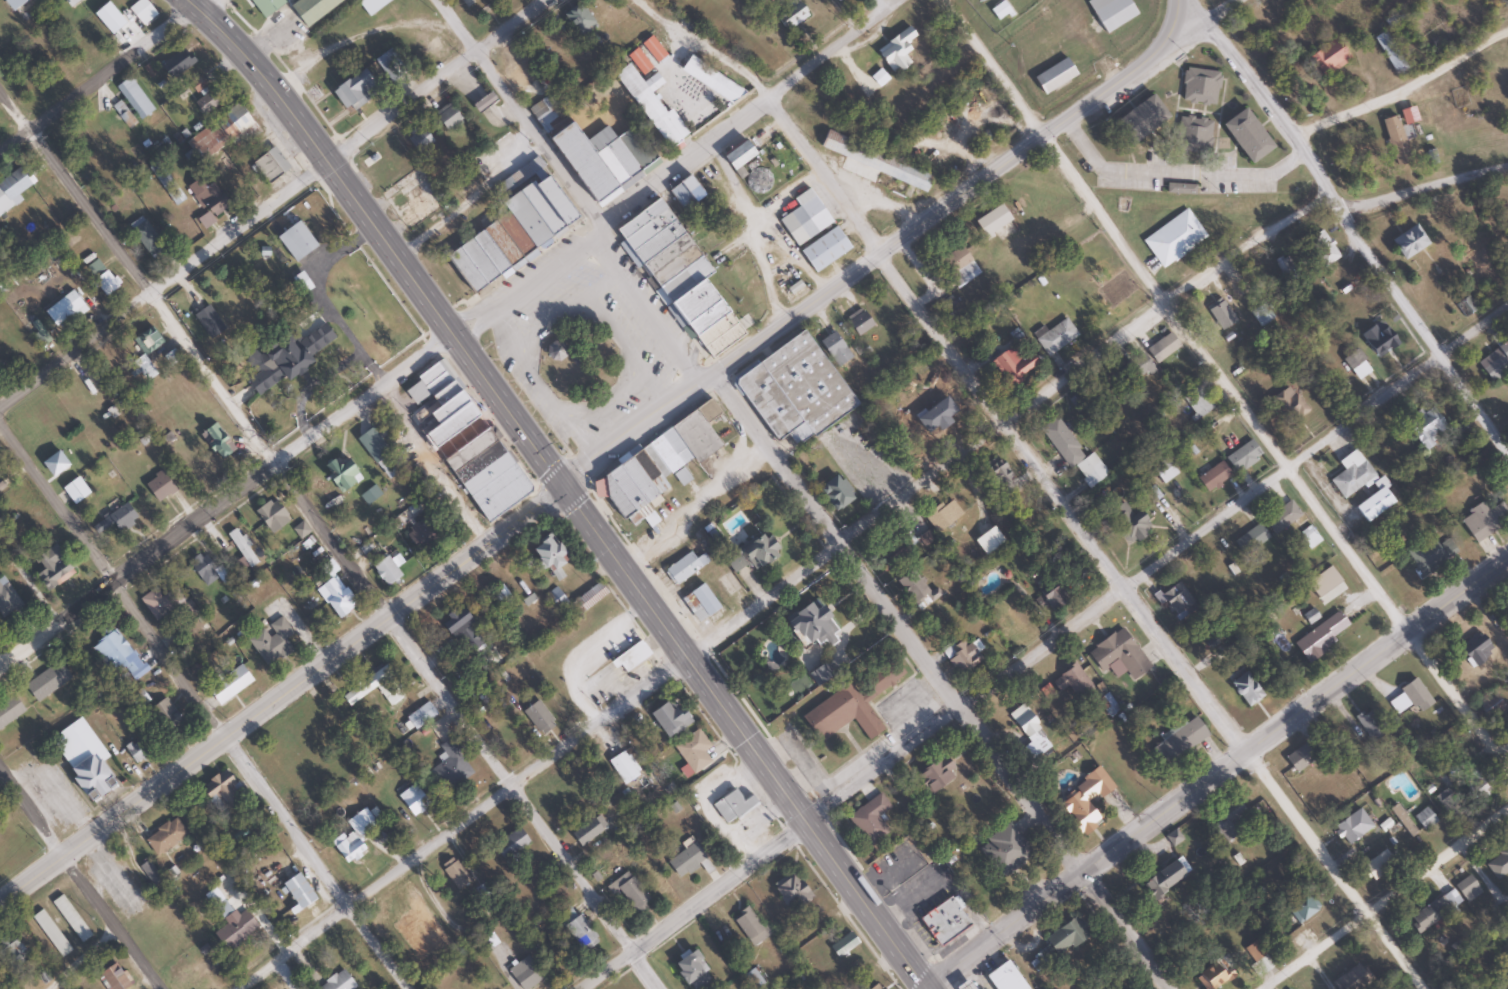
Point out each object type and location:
building: (835, 0)
building: (70, 2)
park: (1210, 2)
building: (10, 3)
building: (265, 5)
building: (371, 5)
building: (475, 5)
building: (309, 9)
building: (998, 10)
building: (142, 11)
building: (1110, 12)
building: (787, 13)
building: (577, 18)
road: (1174, 21)
road: (1203, 23)
building: (651, 48)
building: (1388, 52)
building: (893, 54)
building: (1327, 57)
building: (637, 60)
building: (176, 62)
building: (388, 63)
building: (1053, 75)
road: (108, 78)
building: (709, 80)
road: (1401, 84)
building: (1199, 86)
building: (355, 89)
building: (203, 95)
building: (135, 97)
building: (482, 101)
building: (645, 106)
road: (518, 114)
building: (447, 116)
road: (752, 119)
building: (1139, 119)
building: (223, 132)
building: (1192, 134)
building: (1245, 135)
building: (418, 139)
building: (1395, 140)
railway: (1067, 144)
building: (735, 155)
building: (598, 159)
building: (875, 163)
building: (269, 164)
building: (159, 172)
road: (832, 174)
building: (13, 184)
building: (1180, 188)
building: (683, 192)
road: (270, 202)
building: (209, 204)
building: (536, 207)
road: (934, 212)
building: (804, 218)
building: (638, 221)
road: (1352, 227)
building: (1507, 230)
building: (146, 237)
building: (1174, 238)
building: (295, 241)
building: (1407, 242)
building: (1322, 248)
building: (824, 249)
building: (955, 265)
building: (1287, 270)
building: (106, 283)
building: (1465, 306)
building: (68, 313)
road: (1154, 313)
building: (1220, 313)
building: (1260, 315)
building: (208, 321)
building: (857, 322)
building: (1056, 336)
building: (41, 337)
building: (1378, 338)
building: (148, 340)
building: (1162, 347)
building: (834, 348)
building: (286, 357)
park: (579, 361)
building: (1495, 362)
building: (1357, 363)
building: (1137, 367)
building: (140, 369)
building: (1011, 369)
road: (1227, 385)
building: (92, 389)
building: (790, 389)
building: (1197, 401)
building: (1288, 405)
building: (933, 417)
building: (448, 426)
building: (1425, 426)
road: (297, 446)
building: (1068, 448)
building: (1242, 456)
building: (384, 462)
building: (655, 467)
building: (1163, 470)
building: (997, 472)
building: (1351, 474)
building: (342, 475)
building: (1212, 476)
building: (159, 486)
road: (569, 488)
building: (74, 490)
building: (832, 493)
building: (1371, 504)
road: (1233, 505)
building: (944, 512)
building: (270, 515)
building: (1281, 517)
building: (1483, 518)
building: (115, 521)
building: (1127, 521)
building: (417, 535)
building: (1309, 537)
building: (1250, 538)
road: (325, 542)
building: (241, 548)
building: (893, 551)
building: (749, 553)
building: (1430, 555)
building: (547, 556)
building: (684, 566)
building: (51, 567)
building: (202, 569)
building: (385, 569)
building: (500, 595)
building: (1047, 595)
building: (334, 596)
building: (557, 598)
building: (1177, 600)
building: (157, 603)
building: (698, 603)
road: (883, 607)
road: (1152, 620)
building: (809, 625)
building: (462, 627)
building: (1320, 636)
building: (271, 641)
road: (352, 643)
building: (1475, 649)
building: (114, 652)
building: (1117, 654)
building: (960, 655)
building: (630, 657)
building: (818, 674)
building: (1071, 681)
building: (46, 682)
building: (229, 684)
building: (1244, 689)
building: (391, 693)
building: (1415, 694)
building: (139, 698)
building: (848, 706)
road: (203, 707)
building: (9, 710)
road: (1293, 713)
building: (421, 716)
building: (538, 717)
building: (164, 718)
building: (668, 719)
building: (1370, 724)
building: (1028, 731)
building: (508, 736)
building: (1178, 741)
building: (135, 751)
building: (692, 751)
building: (81, 758)
building: (1299, 758)
building: (623, 767)
building: (449, 768)
road: (537, 768)
building: (929, 779)
building: (574, 788)
building: (219, 792)
building: (412, 800)
building: (1083, 801)
building: (731, 806)
building: (1424, 819)
building: (869, 820)
building: (1230, 821)
building: (1402, 821)
building: (1349, 825)
building: (587, 830)
building: (165, 837)
building: (353, 837)
building: (509, 844)
road: (771, 850)
building: (1004, 851)
building: (685, 860)
building: (1498, 864)
road: (1439, 865)
building: (1376, 866)
building: (149, 872)
building: (454, 873)
building: (1161, 879)
road: (81, 881)
building: (1465, 888)
building: (297, 891)
building: (629, 891)
building: (790, 893)
building: (1303, 907)
building: (1433, 911)
building: (70, 918)
building: (943, 921)
building: (750, 926)
building: (576, 927)
road: (1003, 930)
building: (234, 931)
building: (50, 933)
building: (1064, 937)
building: (842, 945)
building: (9, 951)
building: (1253, 951)
road: (1317, 952)
building: (690, 971)
building: (525, 973)
building: (1213, 974)
building: (114, 977)
building: (1003, 978)
building: (1351, 978)
building: (751, 979)
building: (337, 982)
building: (962, 985)
building: (875, 987)
building: (1121, 987)
building: (281, 988)

